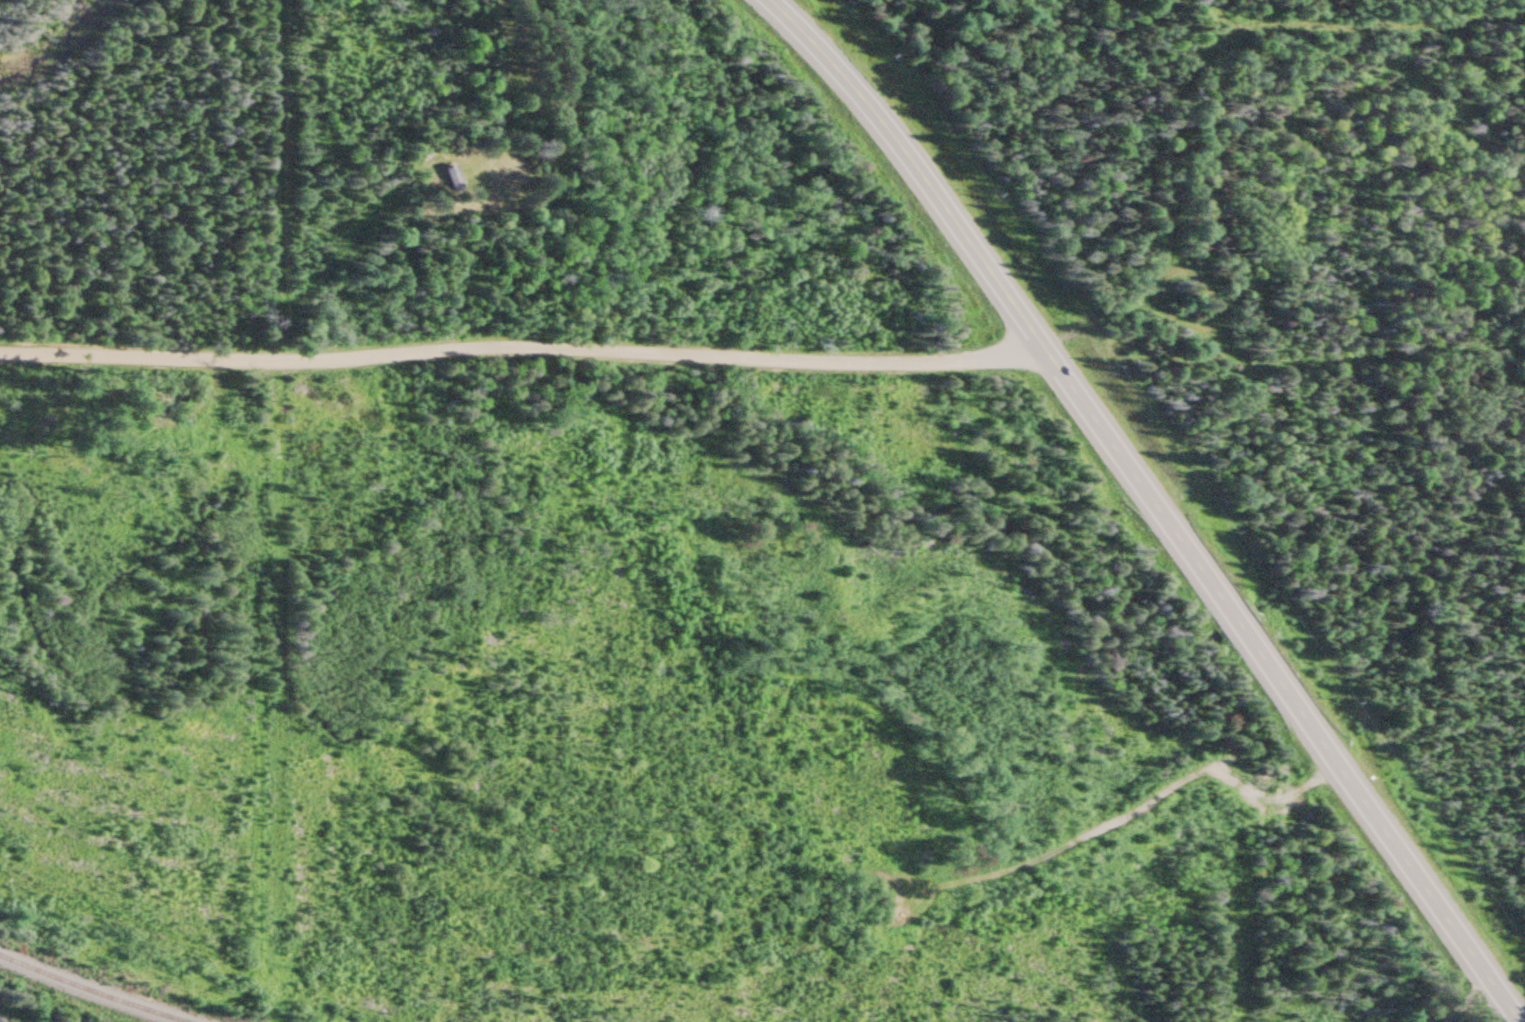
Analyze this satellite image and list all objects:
road: (504, 80)
building: (452, 179)
road: (519, 348)
road: (1154, 502)
railway: (103, 988)

